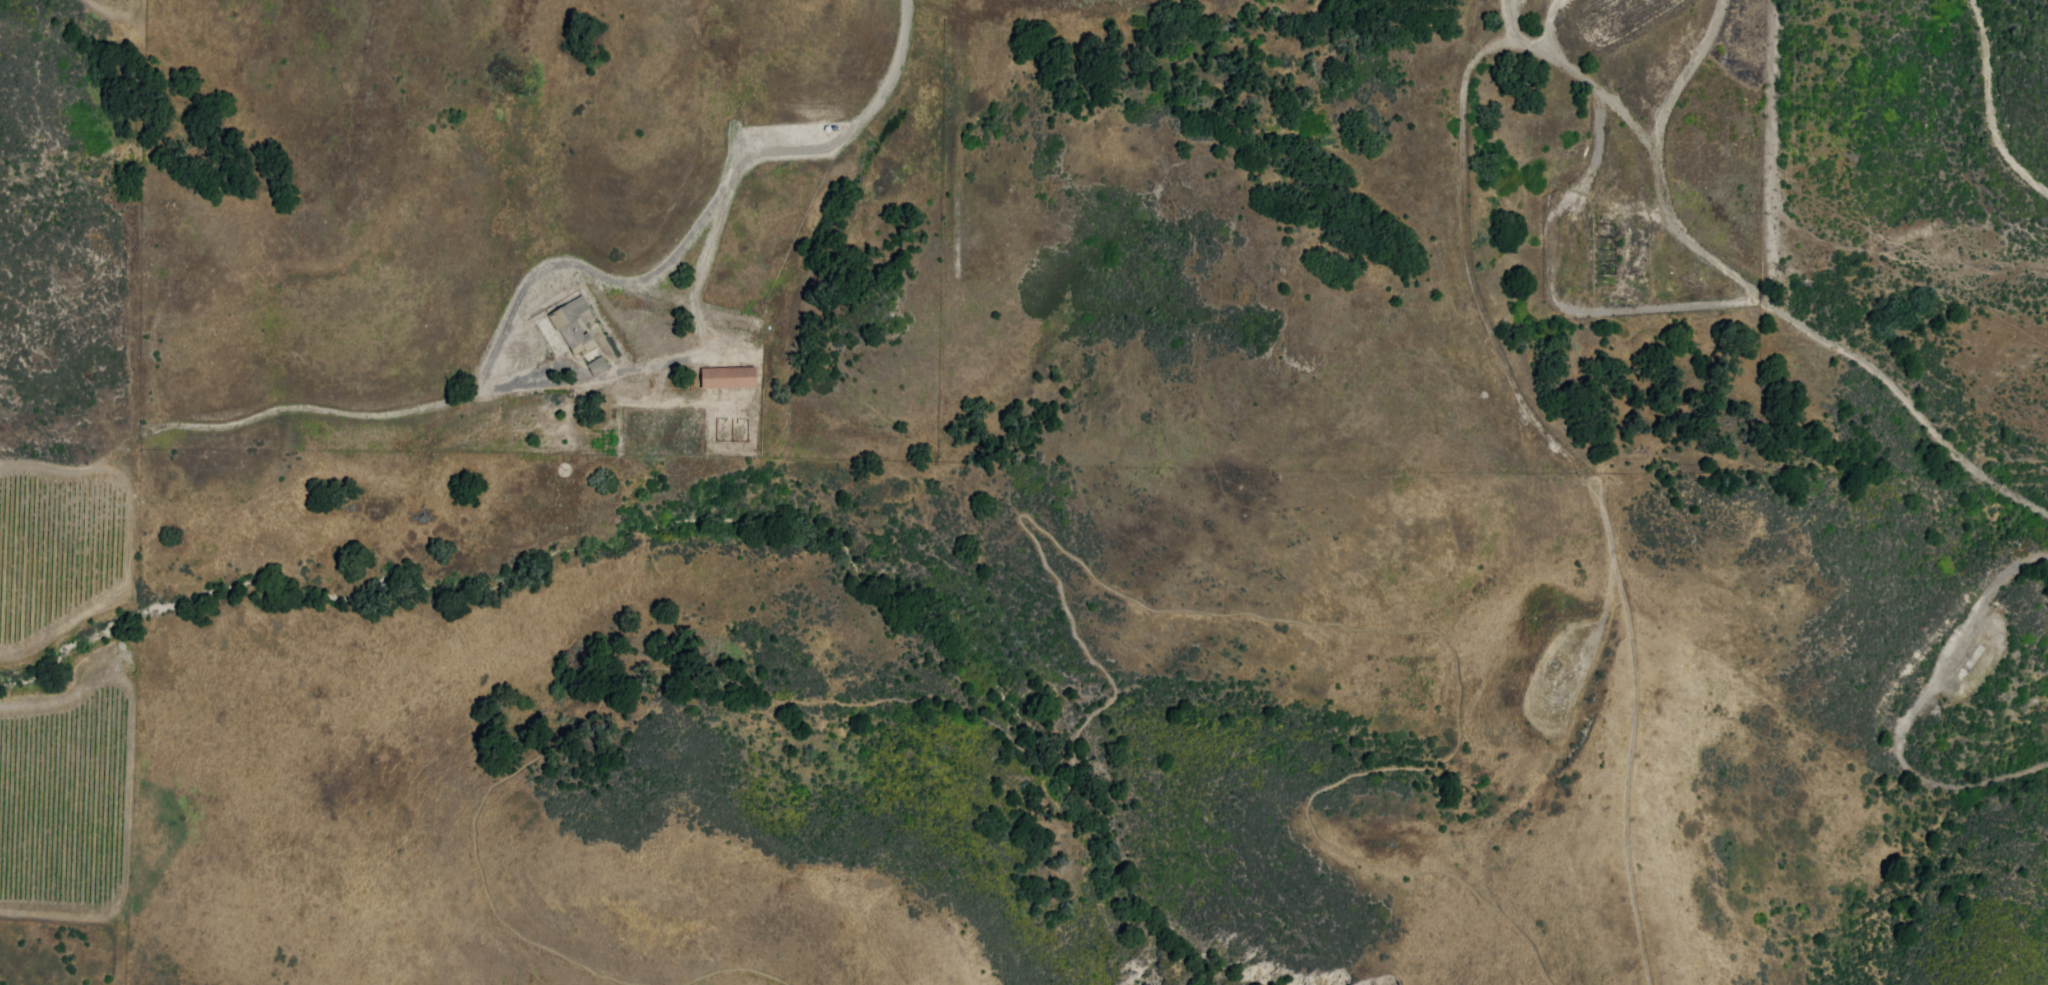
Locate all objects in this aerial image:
road: (1649, 74)
road: (1995, 102)
road: (1659, 159)
road: (523, 297)
road: (1706, 302)
building: (569, 322)
building: (597, 365)
building: (726, 377)
road: (1913, 706)

